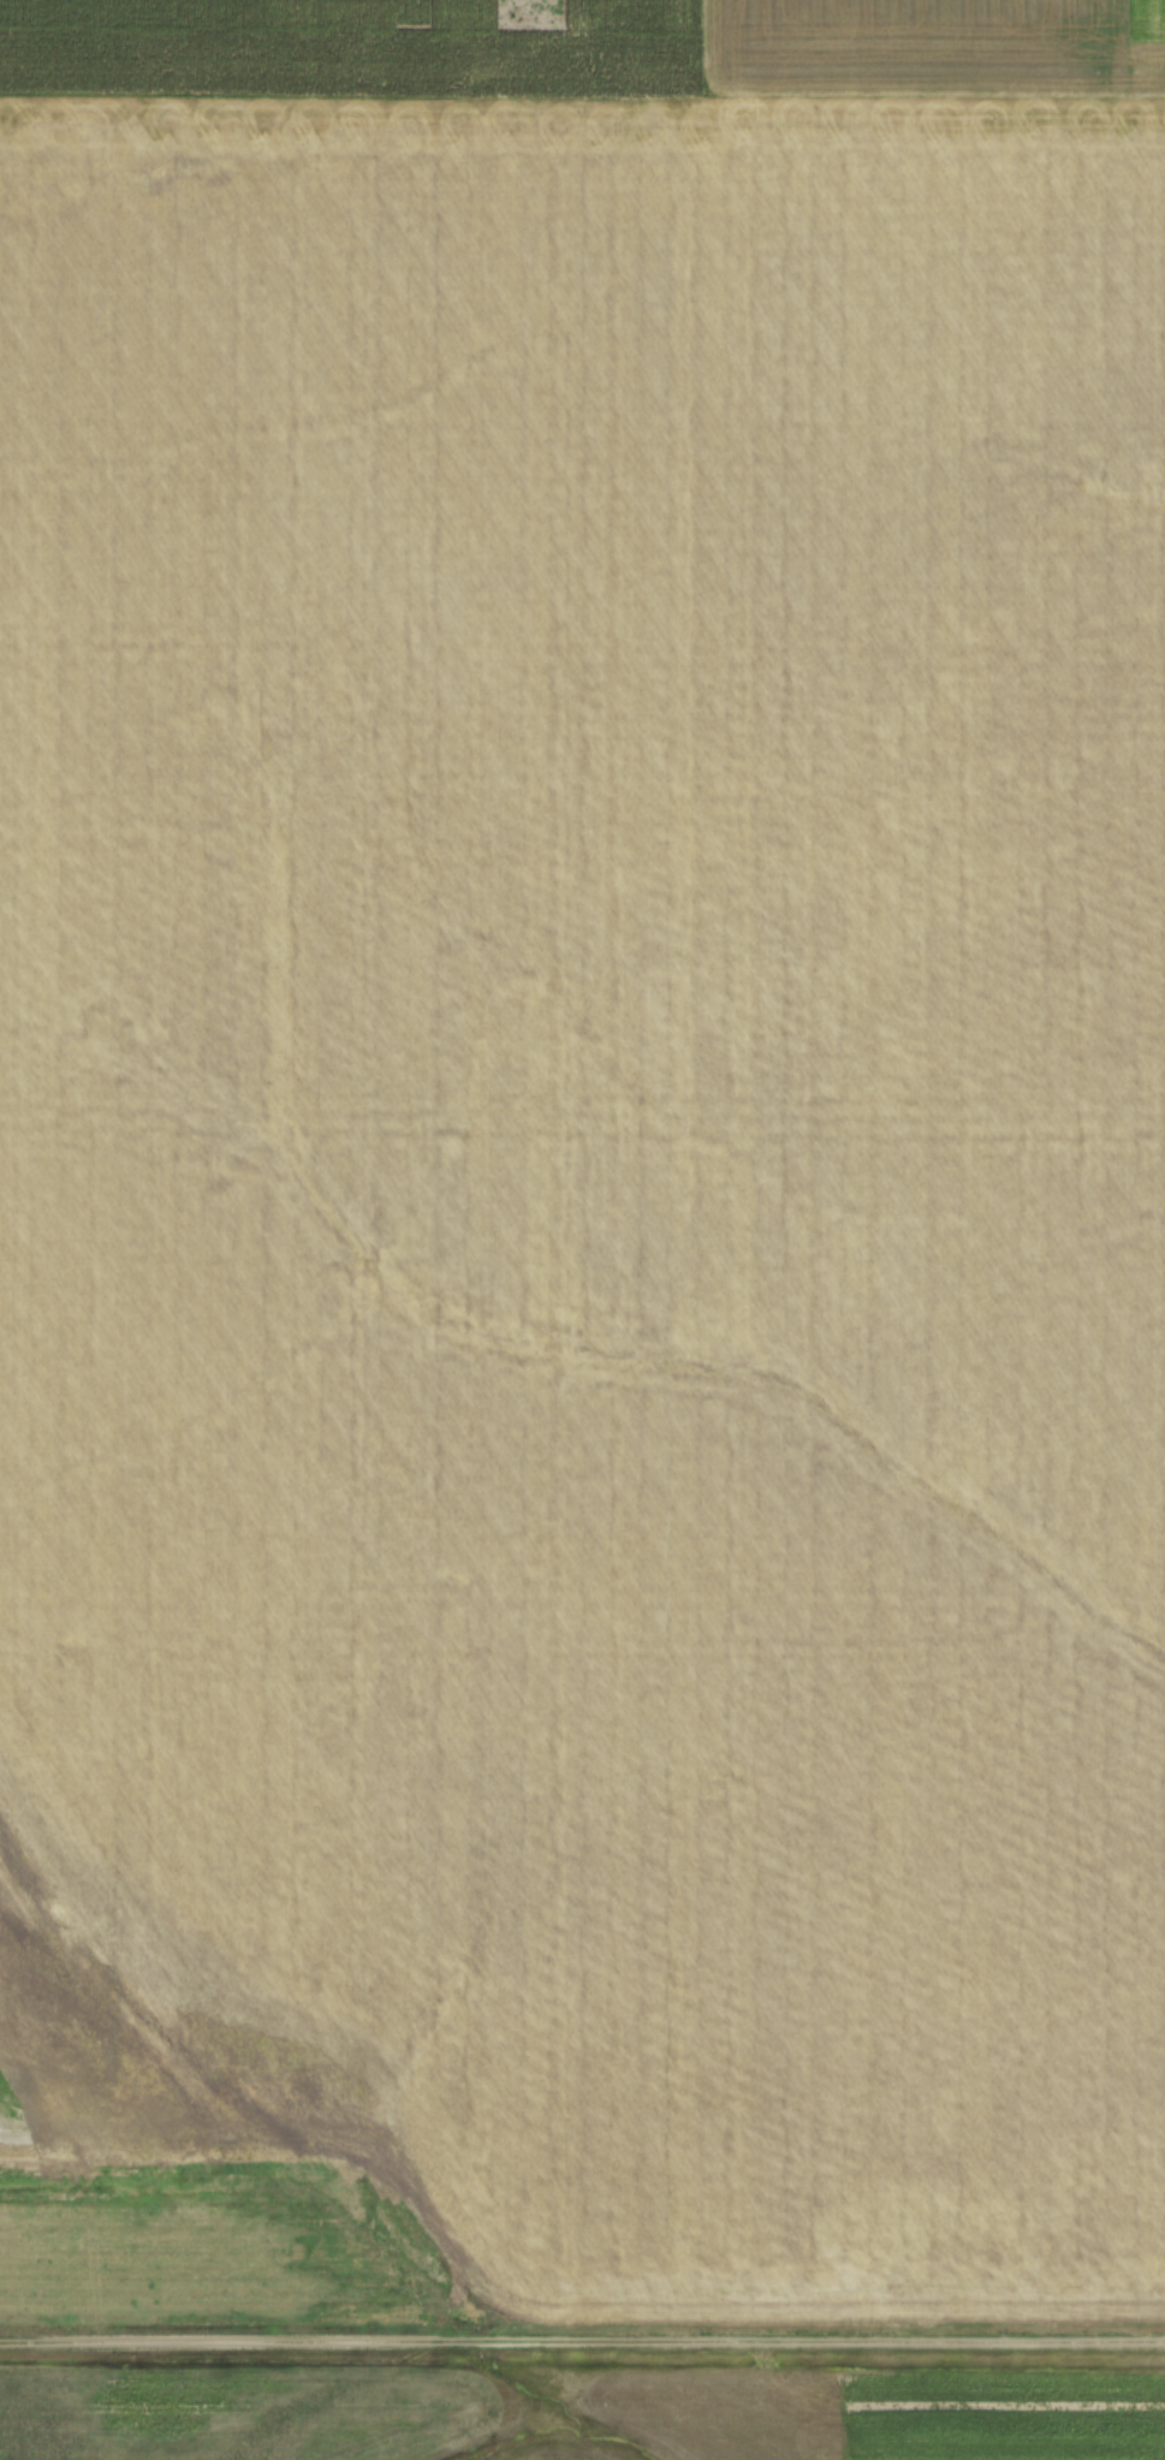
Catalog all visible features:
road: (582, 2339)

